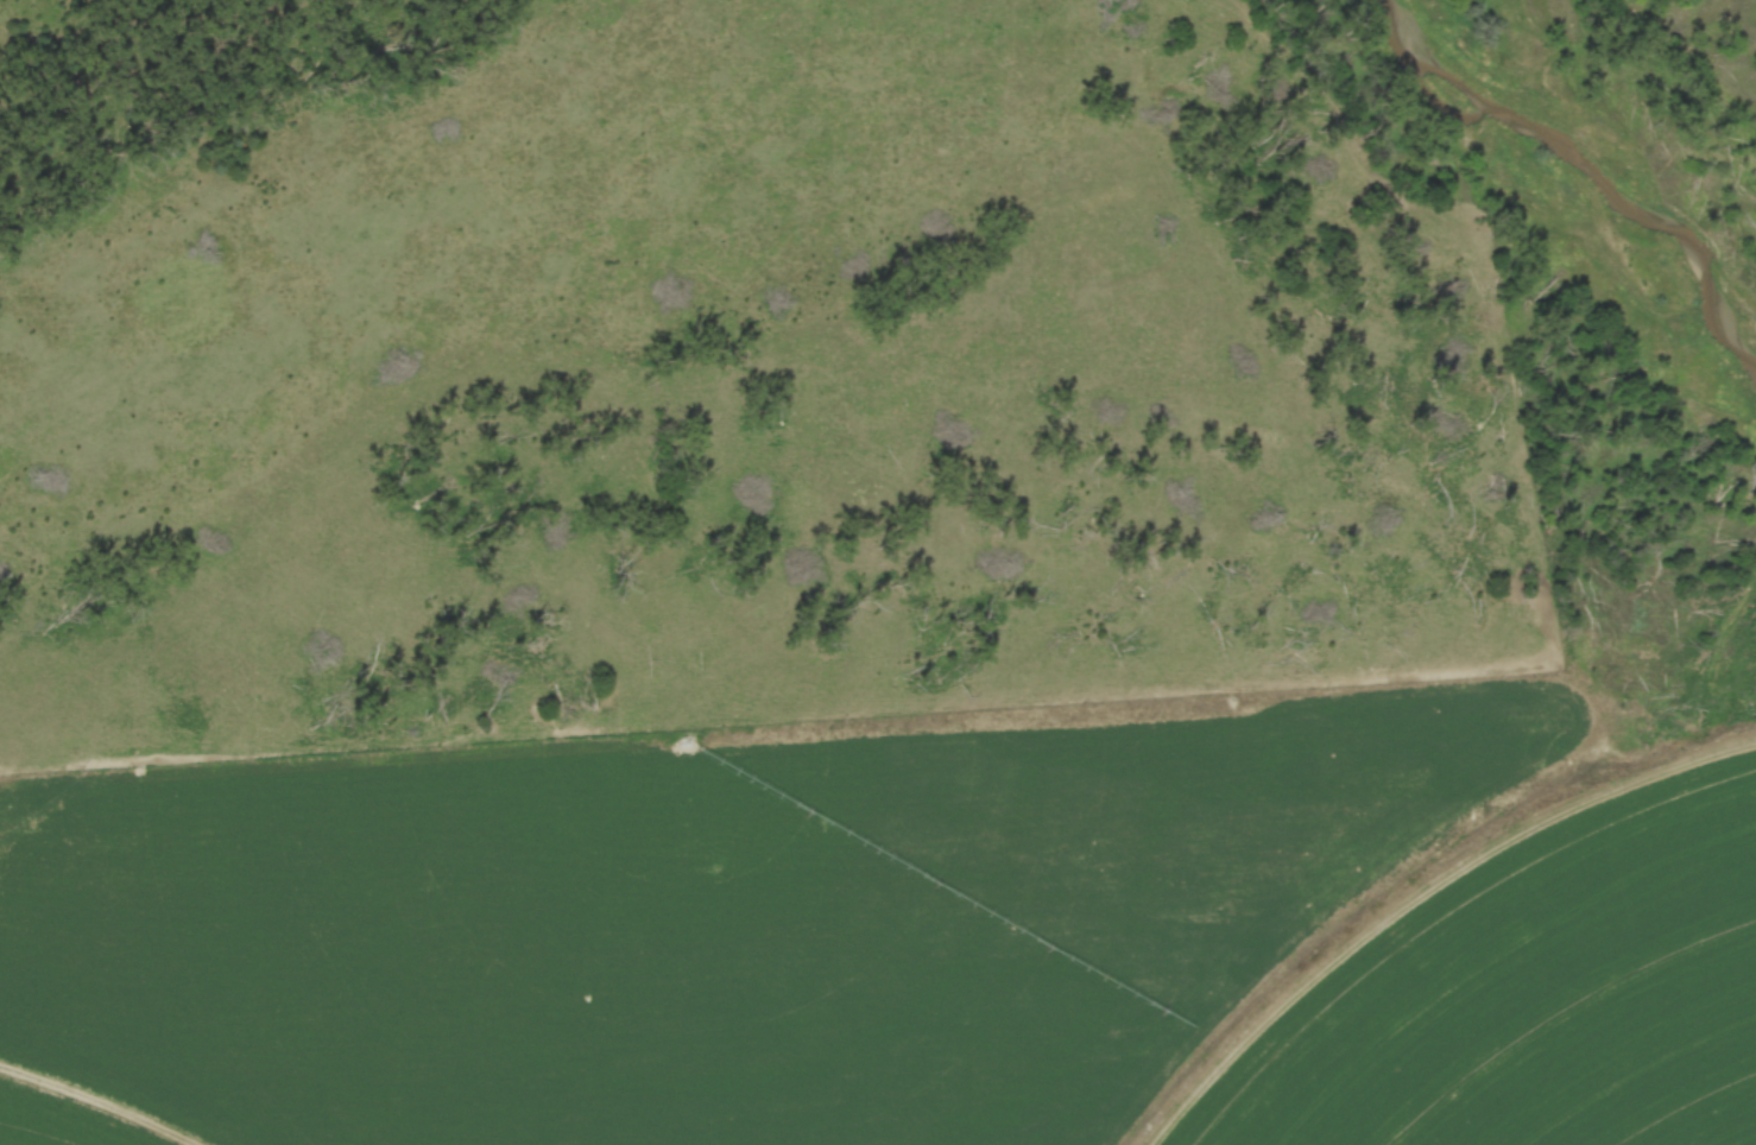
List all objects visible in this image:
river: (1587, 170)

